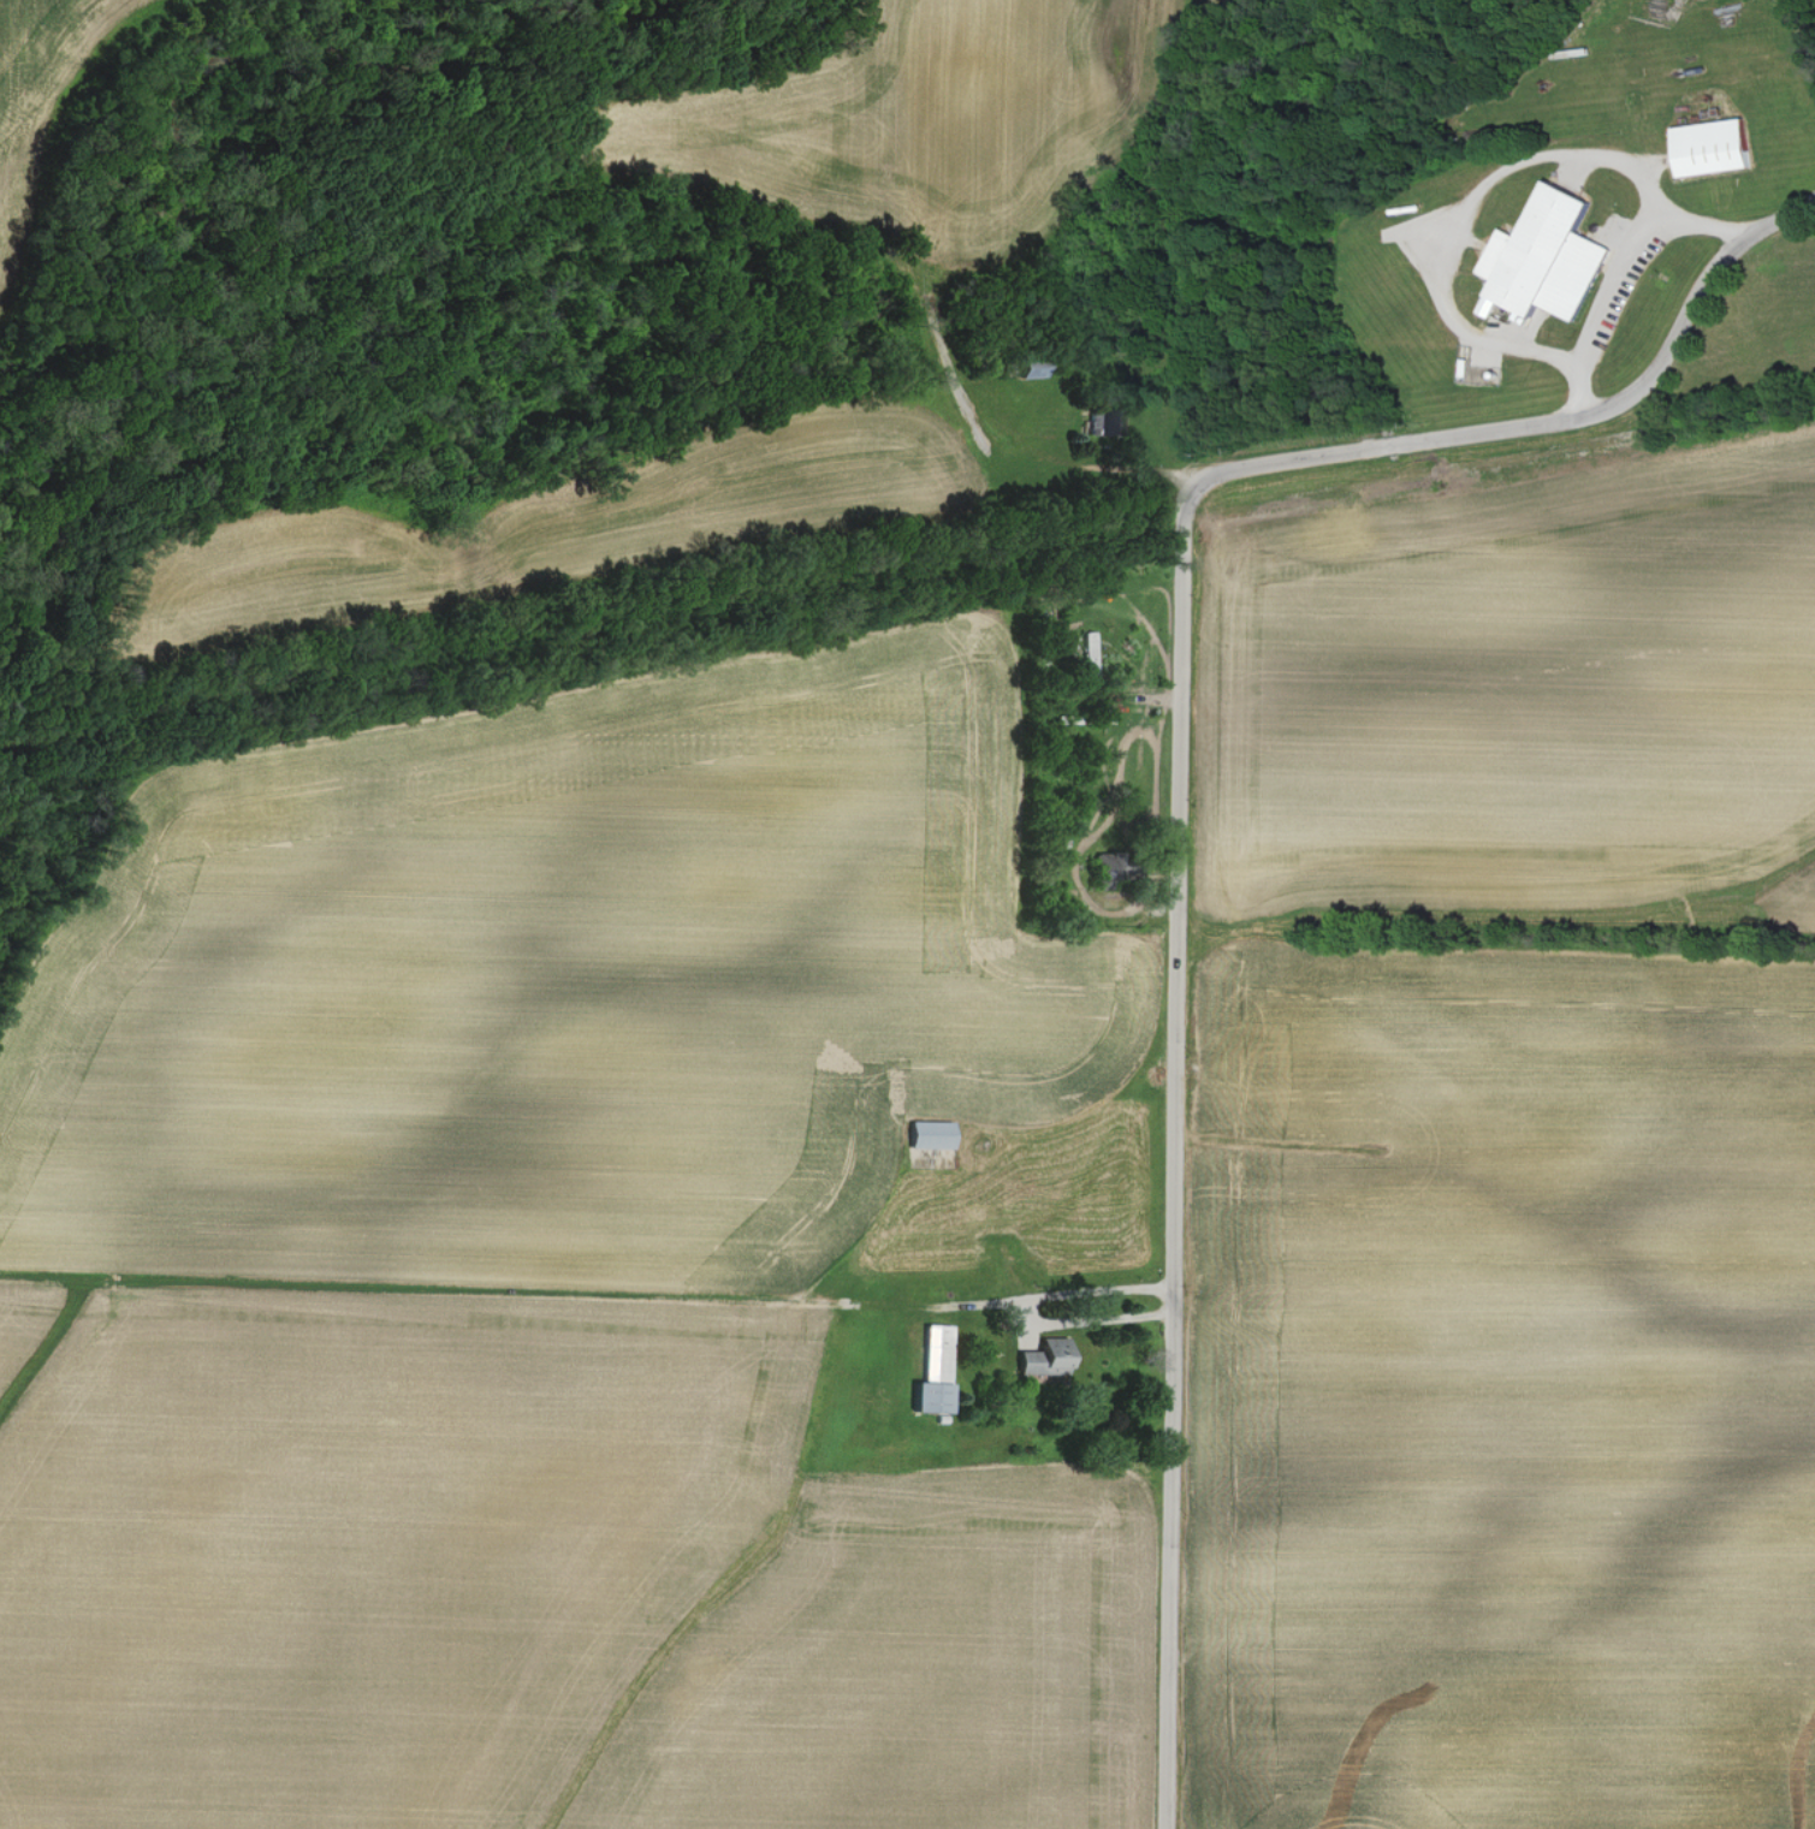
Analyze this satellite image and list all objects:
building: (1718, 148)
building: (1549, 259)
road: (1596, 262)
road: (1549, 424)
building: (1090, 652)
building: (933, 1135)
road: (1173, 1152)
building: (1045, 1359)
building: (938, 1372)

